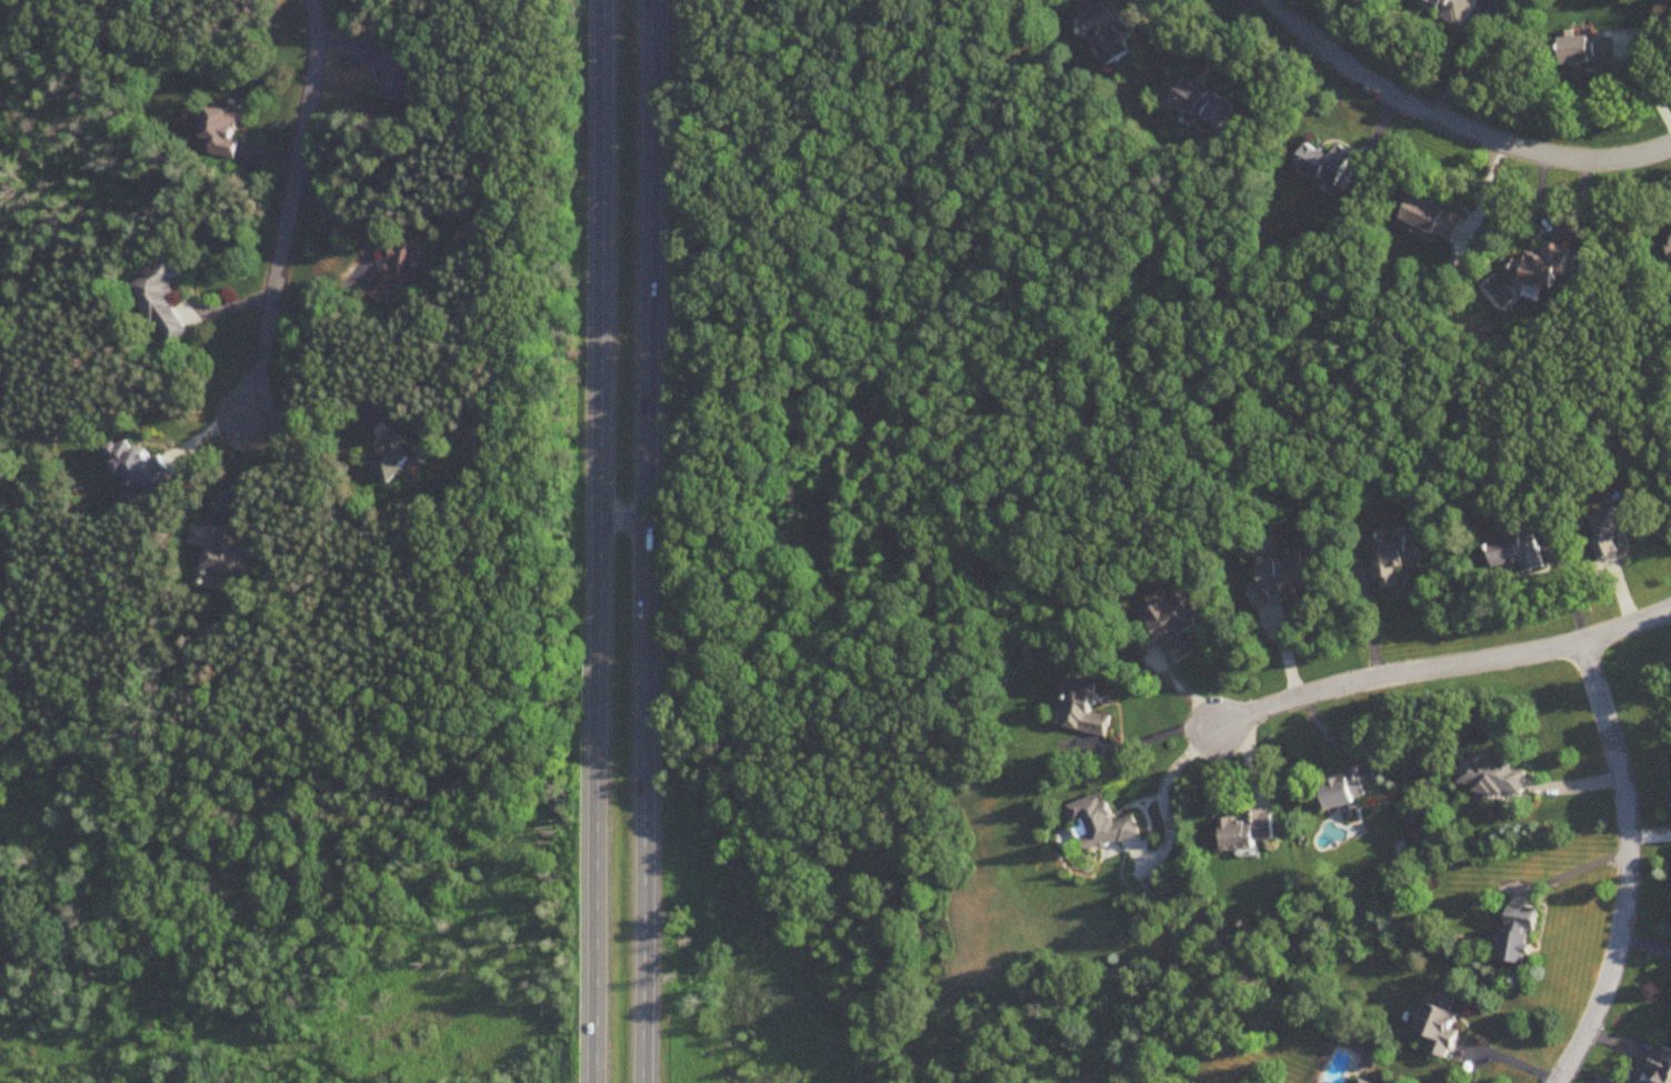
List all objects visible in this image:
building: (1452, 9)
building: (1112, 40)
building: (1590, 51)
road: (1230, 68)
road: (1455, 70)
building: (396, 77)
road: (1647, 79)
building: (1201, 102)
building: (219, 131)
road: (1452, 132)
building: (1329, 166)
road: (284, 213)
building: (1435, 220)
road: (1561, 230)
building: (1545, 271)
building: (161, 299)
road: (314, 422)
building: (392, 459)
building: (130, 462)
building: (1613, 531)
road: (602, 541)
road: (647, 541)
building: (227, 552)
building: (1518, 555)
building: (1395, 560)
building: (1280, 581)
building: (1172, 623)
road: (1445, 664)
building: (1082, 711)
road: (1159, 738)
road: (1172, 772)
building: (1494, 778)
building: (1352, 789)
building: (1101, 826)
building: (1250, 832)
road: (1628, 866)
road: (1571, 873)
building: (1520, 935)
building: (1441, 1029)
road: (1629, 1045)
building: (1661, 1065)
road: (1585, 1075)
building: (1363, 1082)

